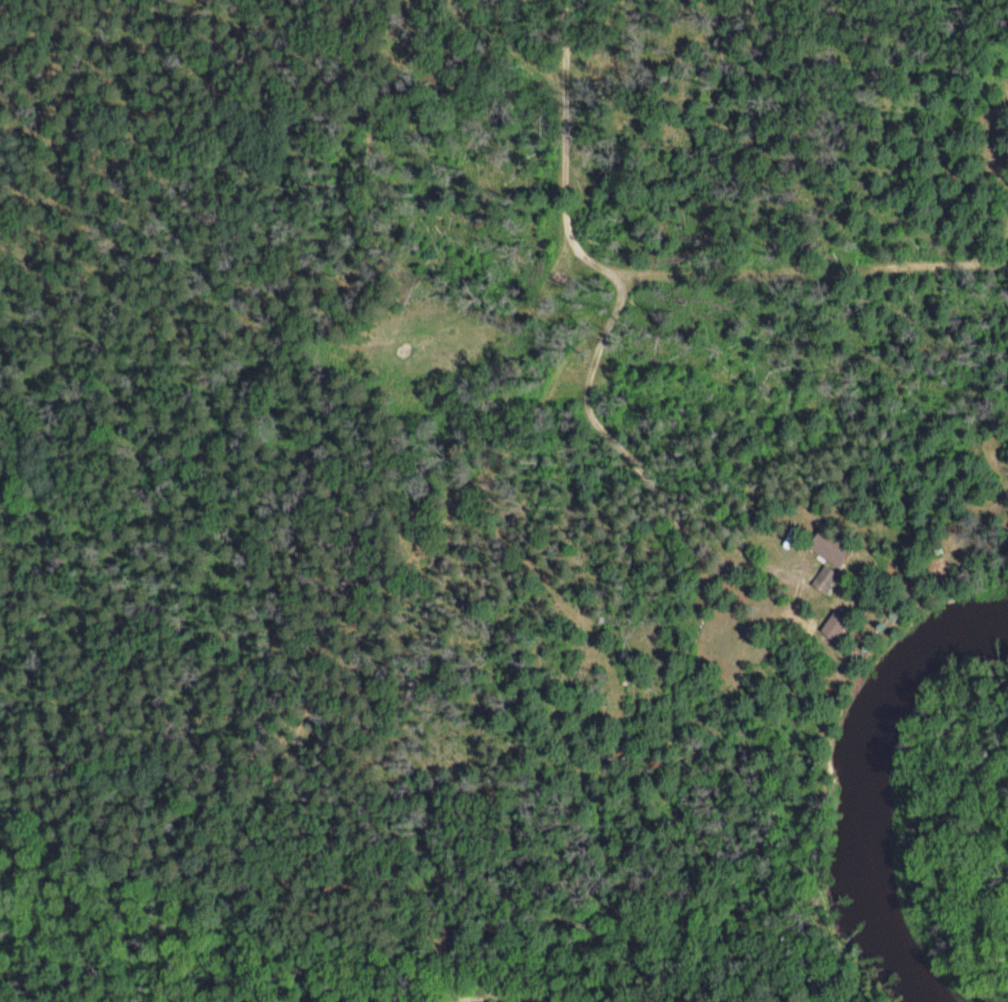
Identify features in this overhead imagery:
road: (641, 40)
road: (653, 270)
building: (823, 577)
building: (831, 624)
river: (867, 783)

